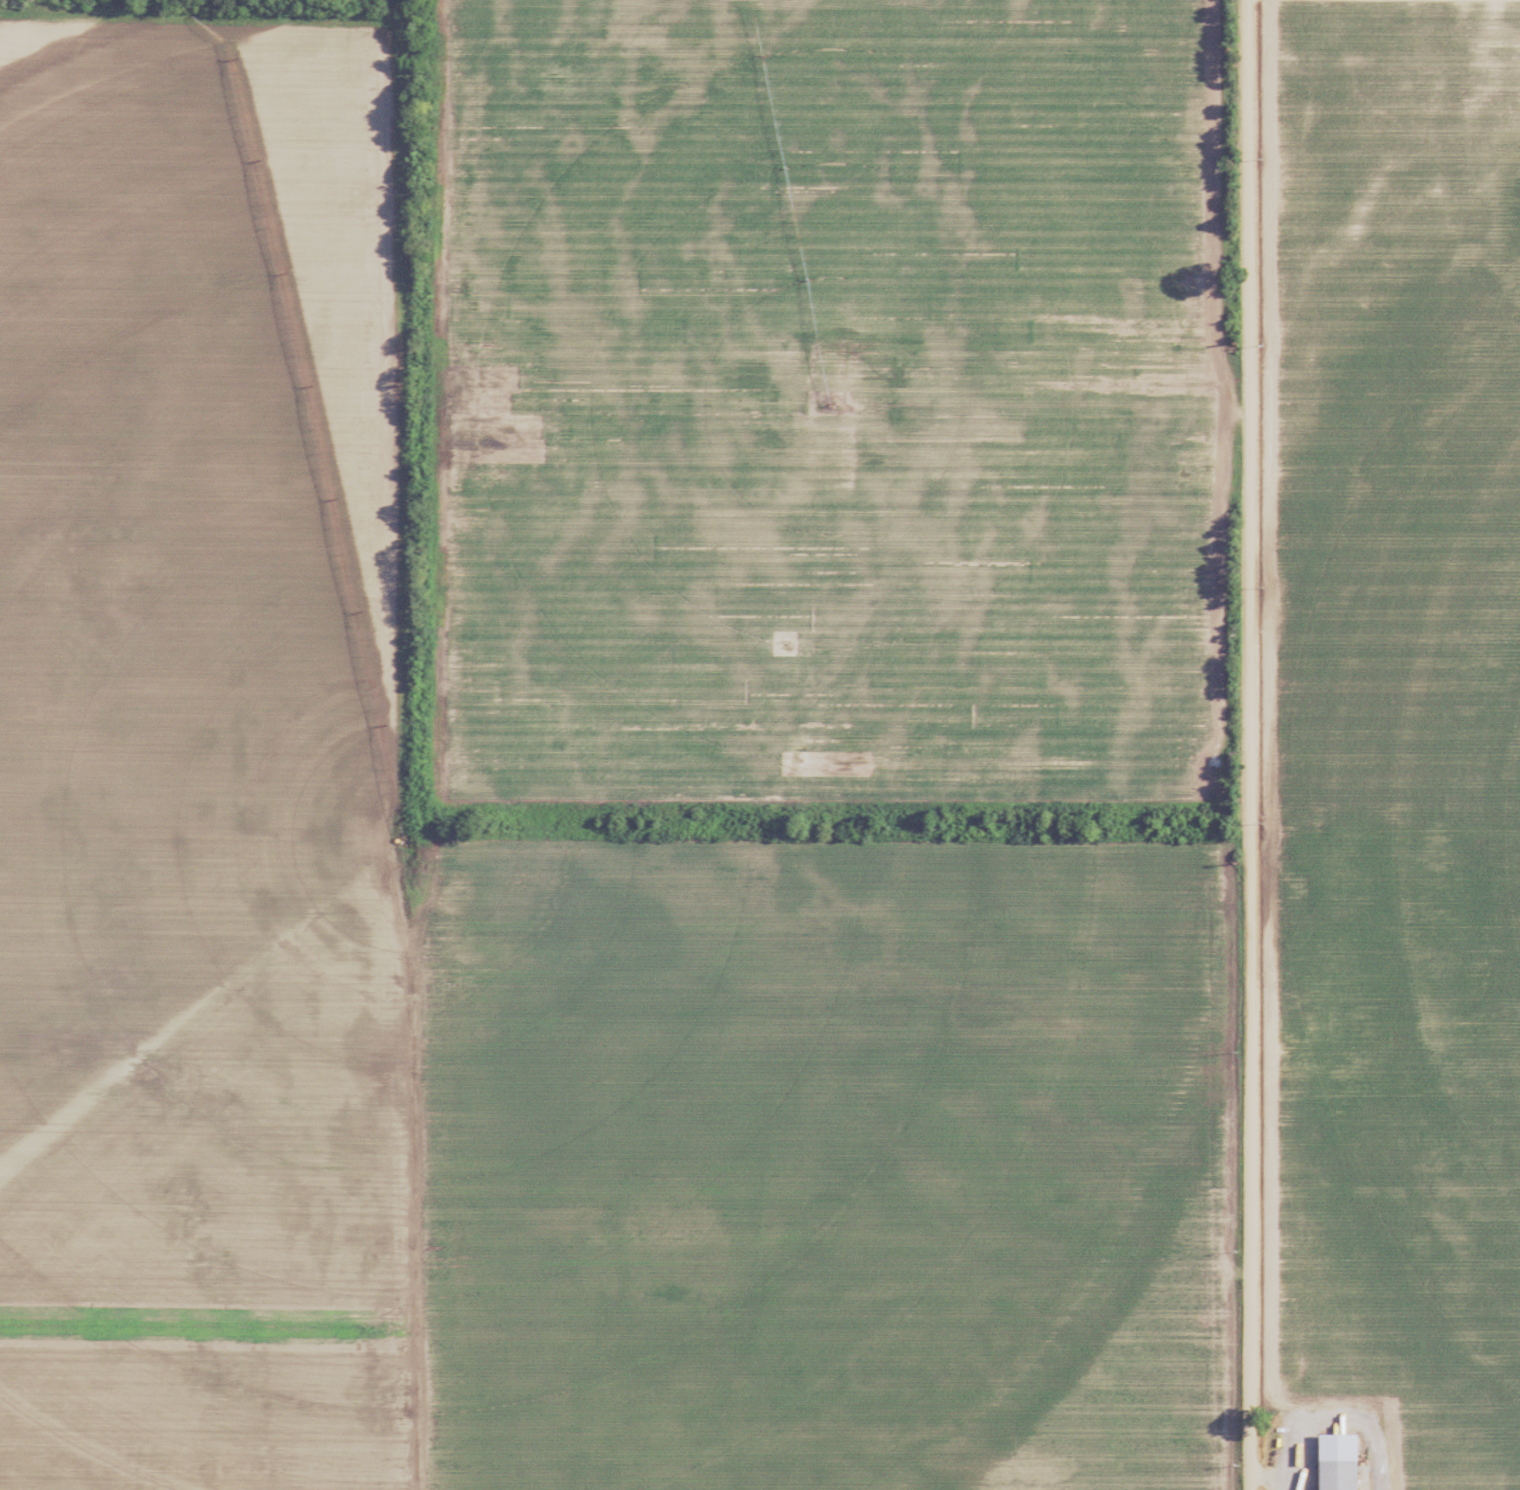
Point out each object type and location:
road: (1256, 744)
building: (1334, 1474)

